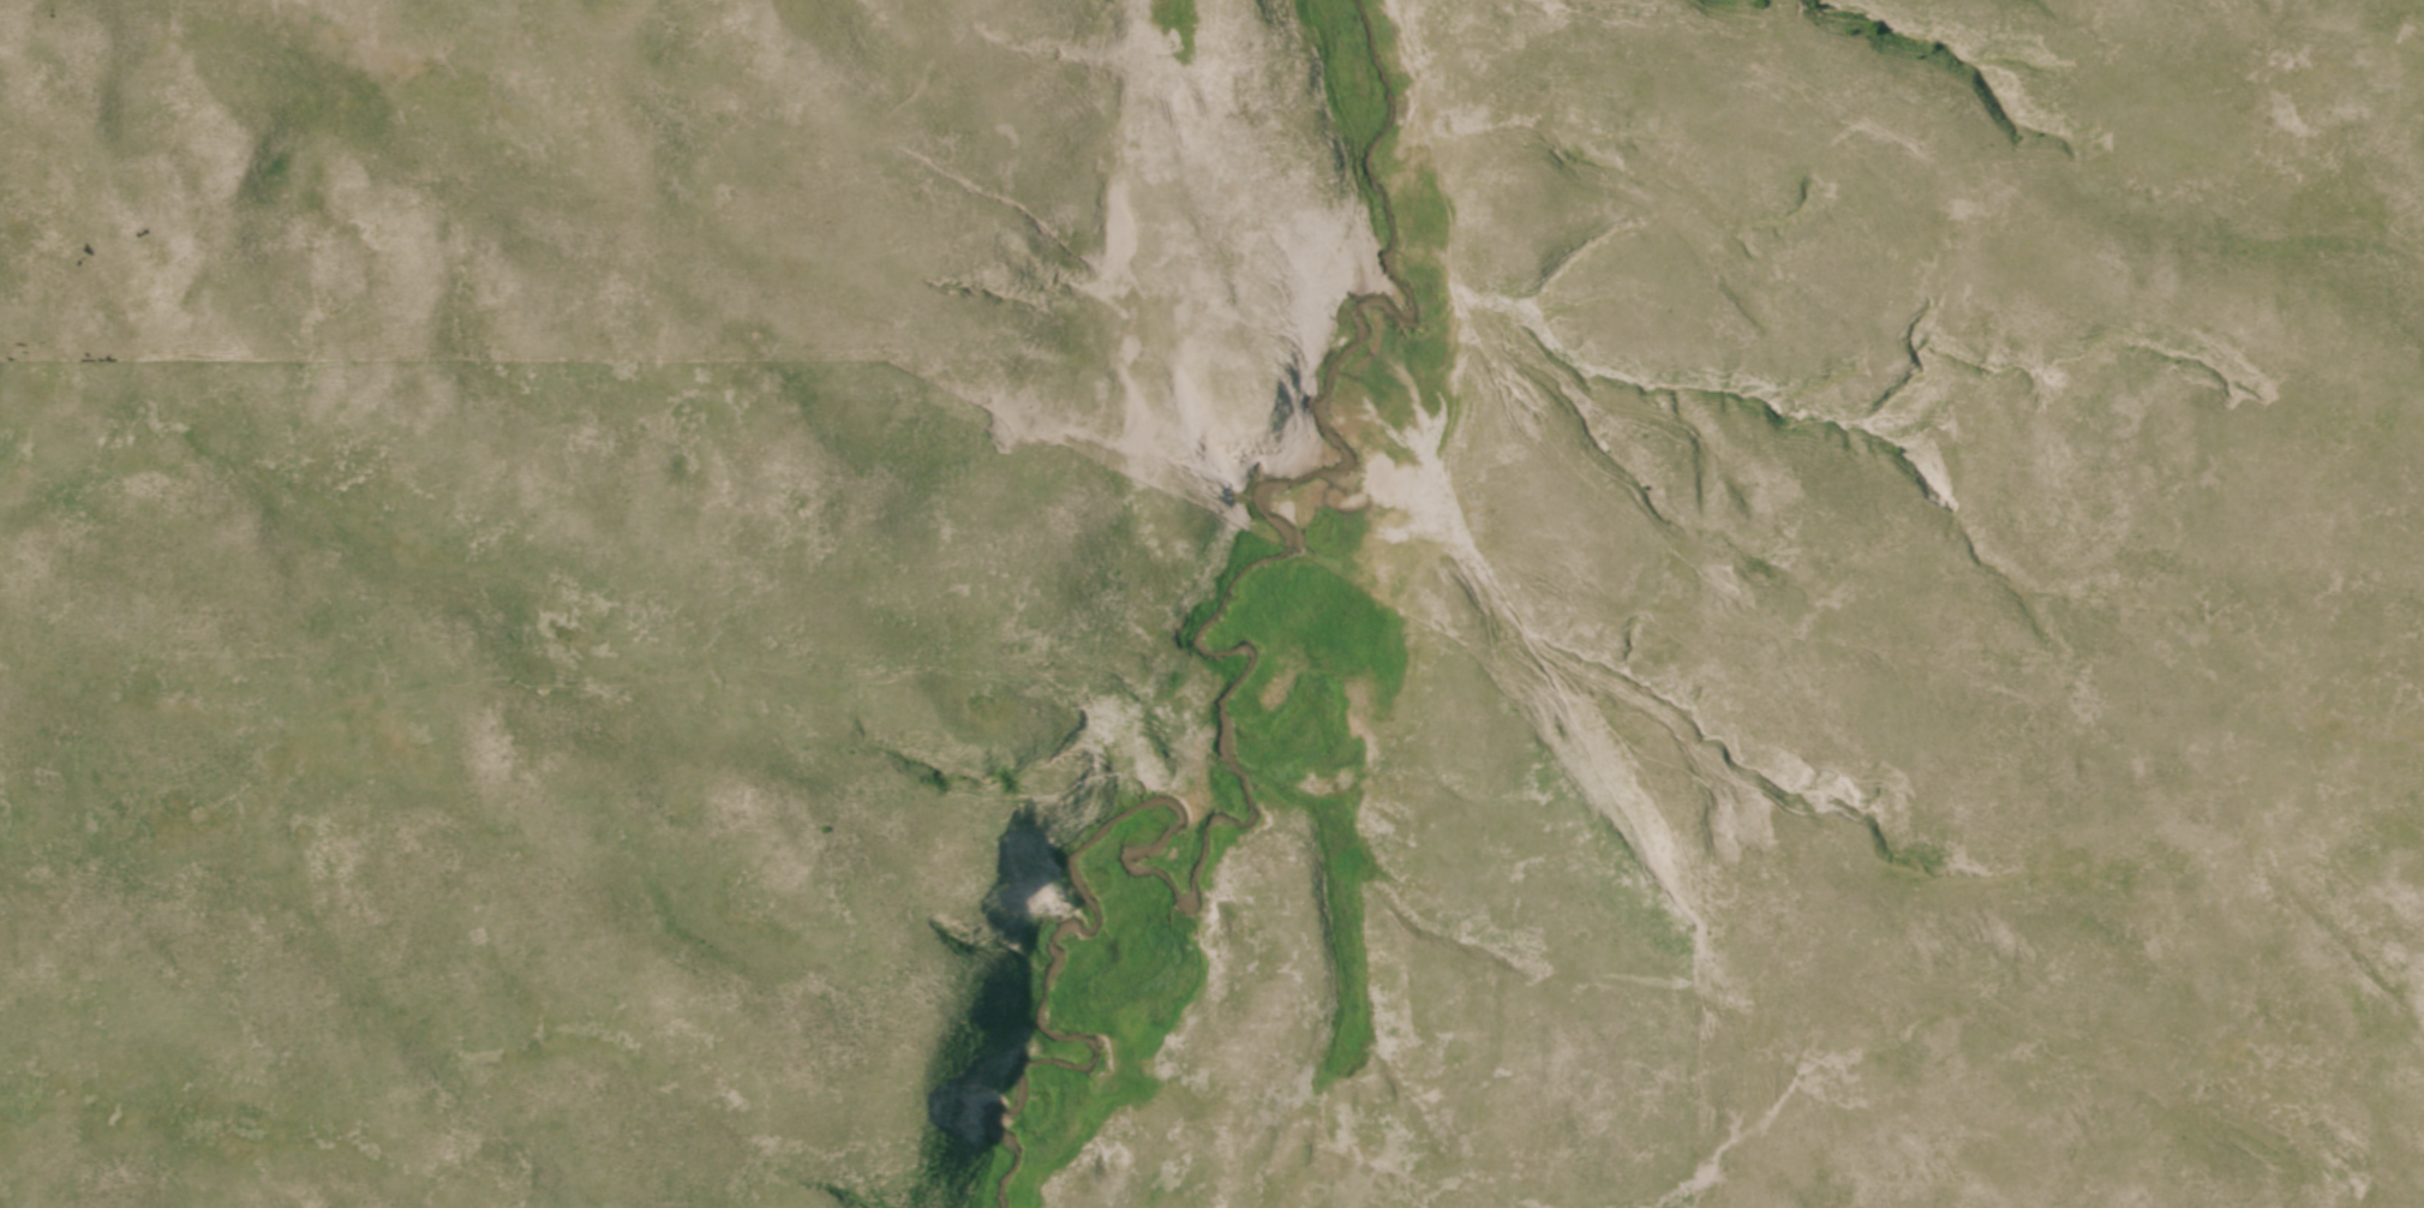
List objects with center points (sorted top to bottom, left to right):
river: (1322, 719)

